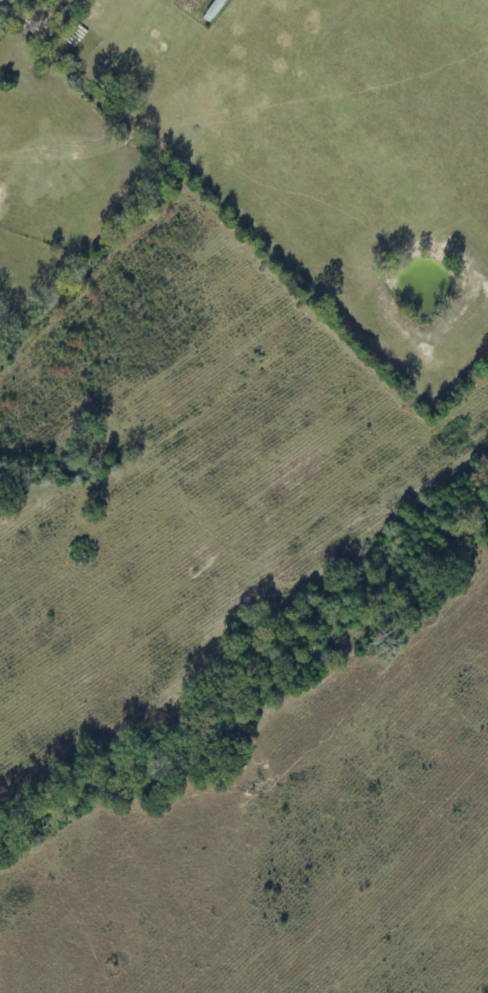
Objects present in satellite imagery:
building: (214, 11)
road: (64, 18)
road: (131, 166)

